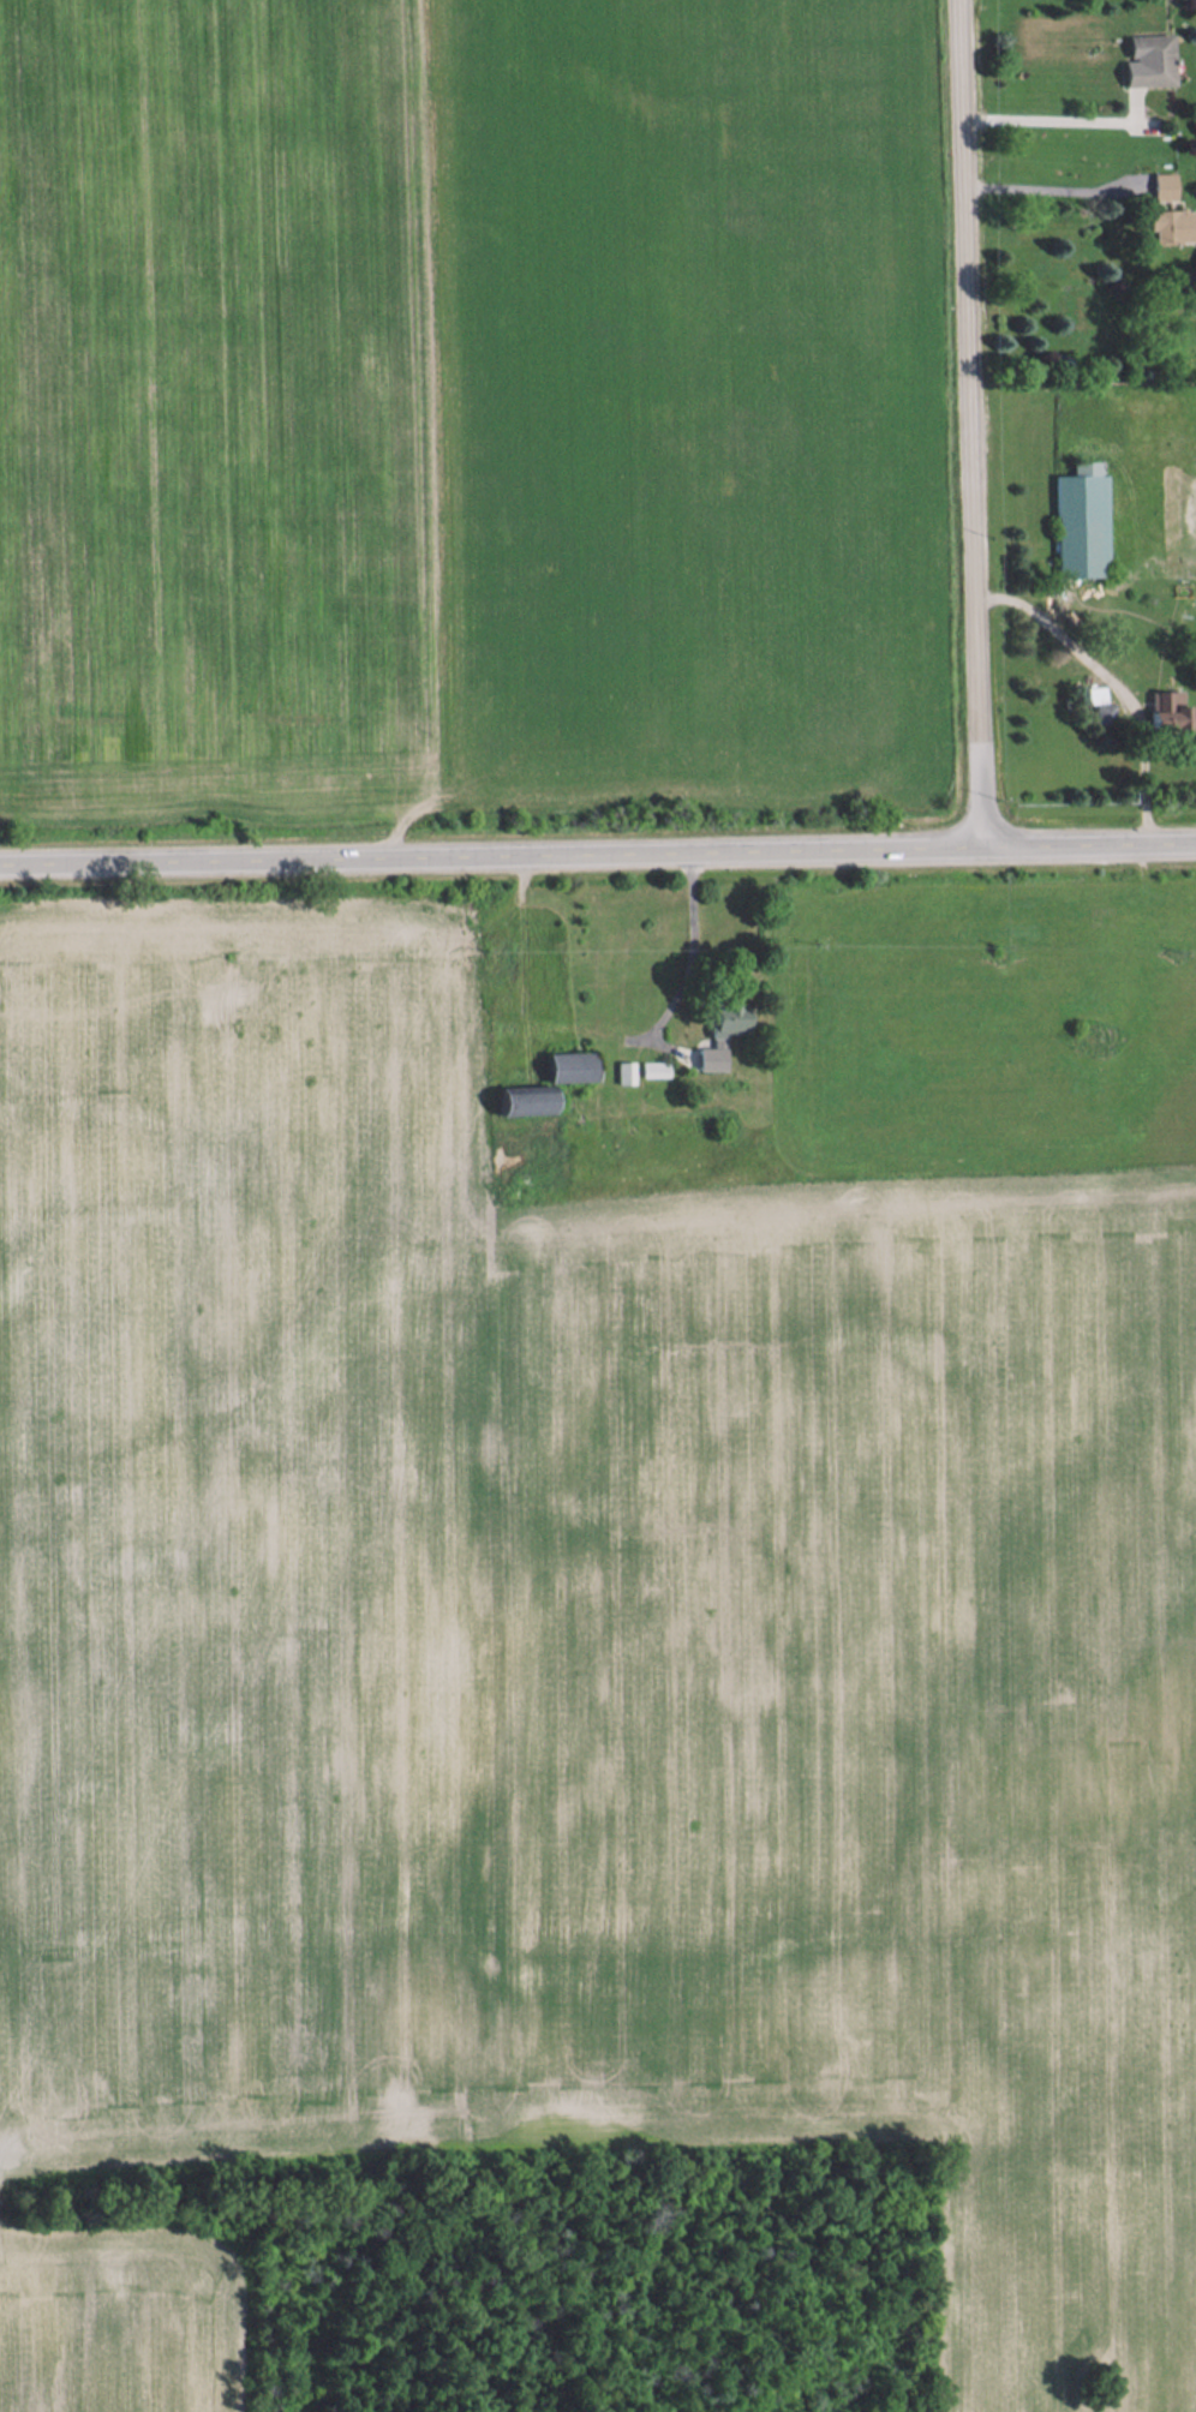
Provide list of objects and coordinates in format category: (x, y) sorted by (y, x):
building: (1146, 60)
road: (1053, 114)
road: (1053, 184)
building: (1162, 186)
building: (1171, 225)
road: (976, 425)
building: (1080, 521)
road: (1122, 680)
building: (1164, 711)
road: (598, 856)
road: (690, 945)
building: (734, 1019)
building: (716, 1058)
building: (576, 1066)
building: (658, 1070)
building: (533, 1102)

